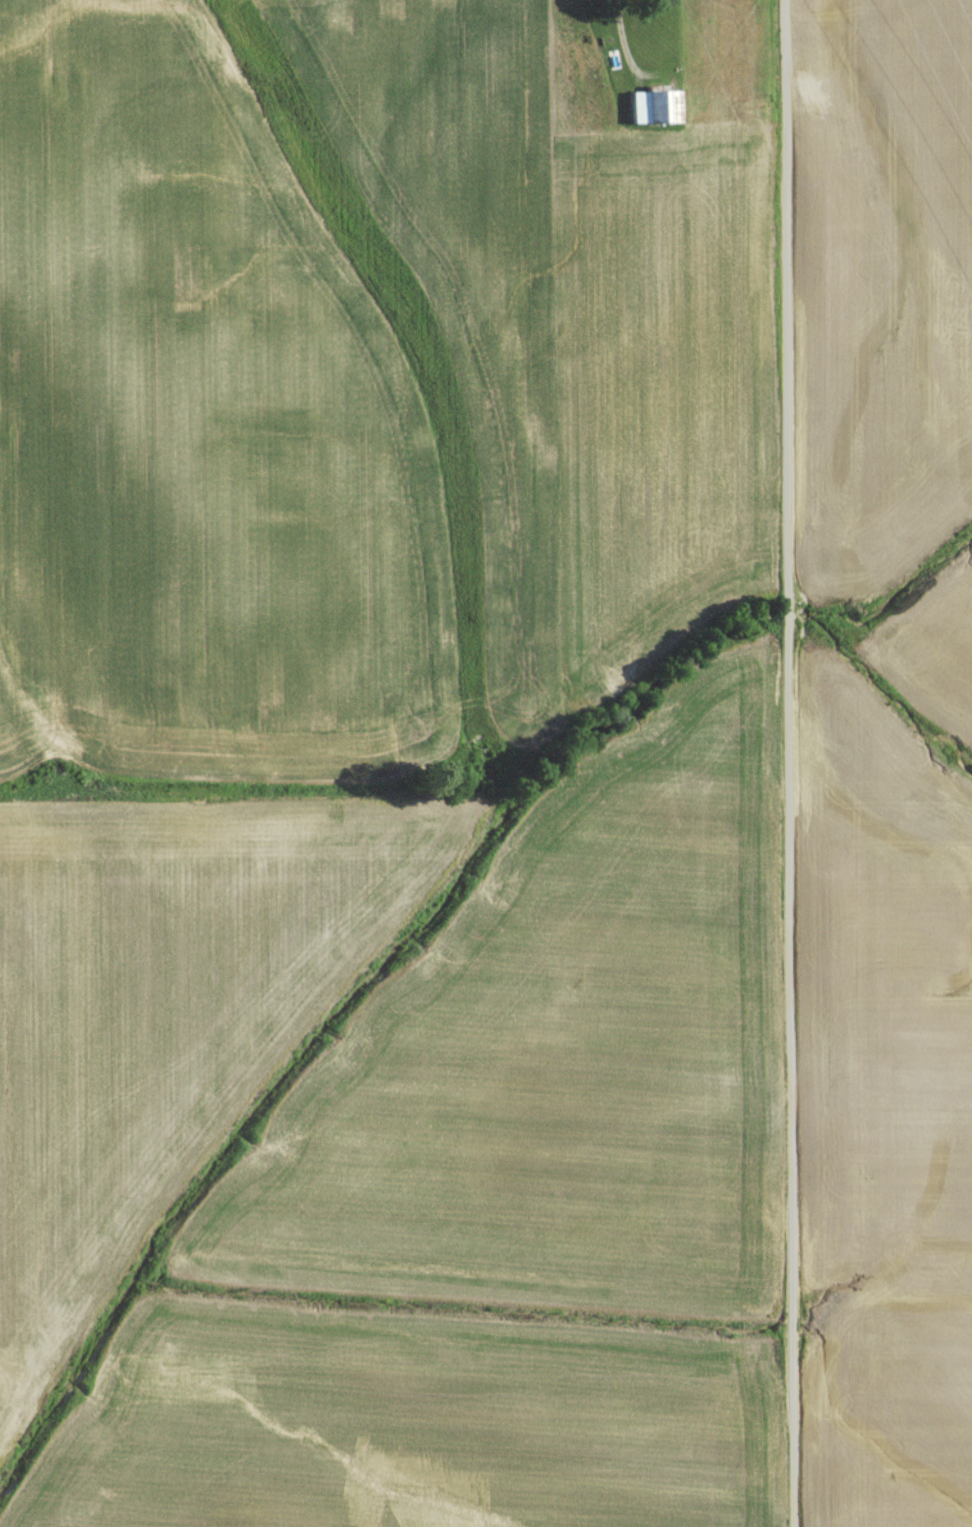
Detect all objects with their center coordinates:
road: (790, 763)

